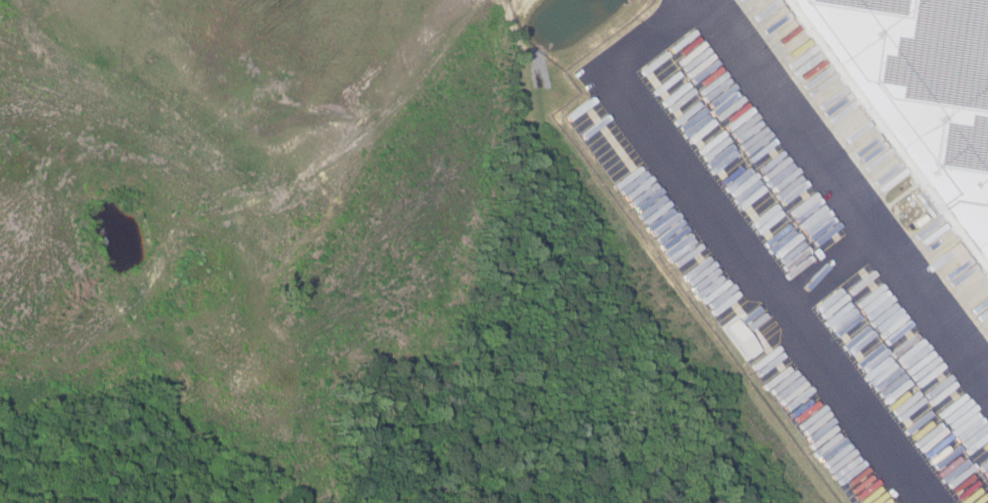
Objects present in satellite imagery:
building: (667, 88)
building: (916, 96)
road: (848, 187)
road: (733, 245)

